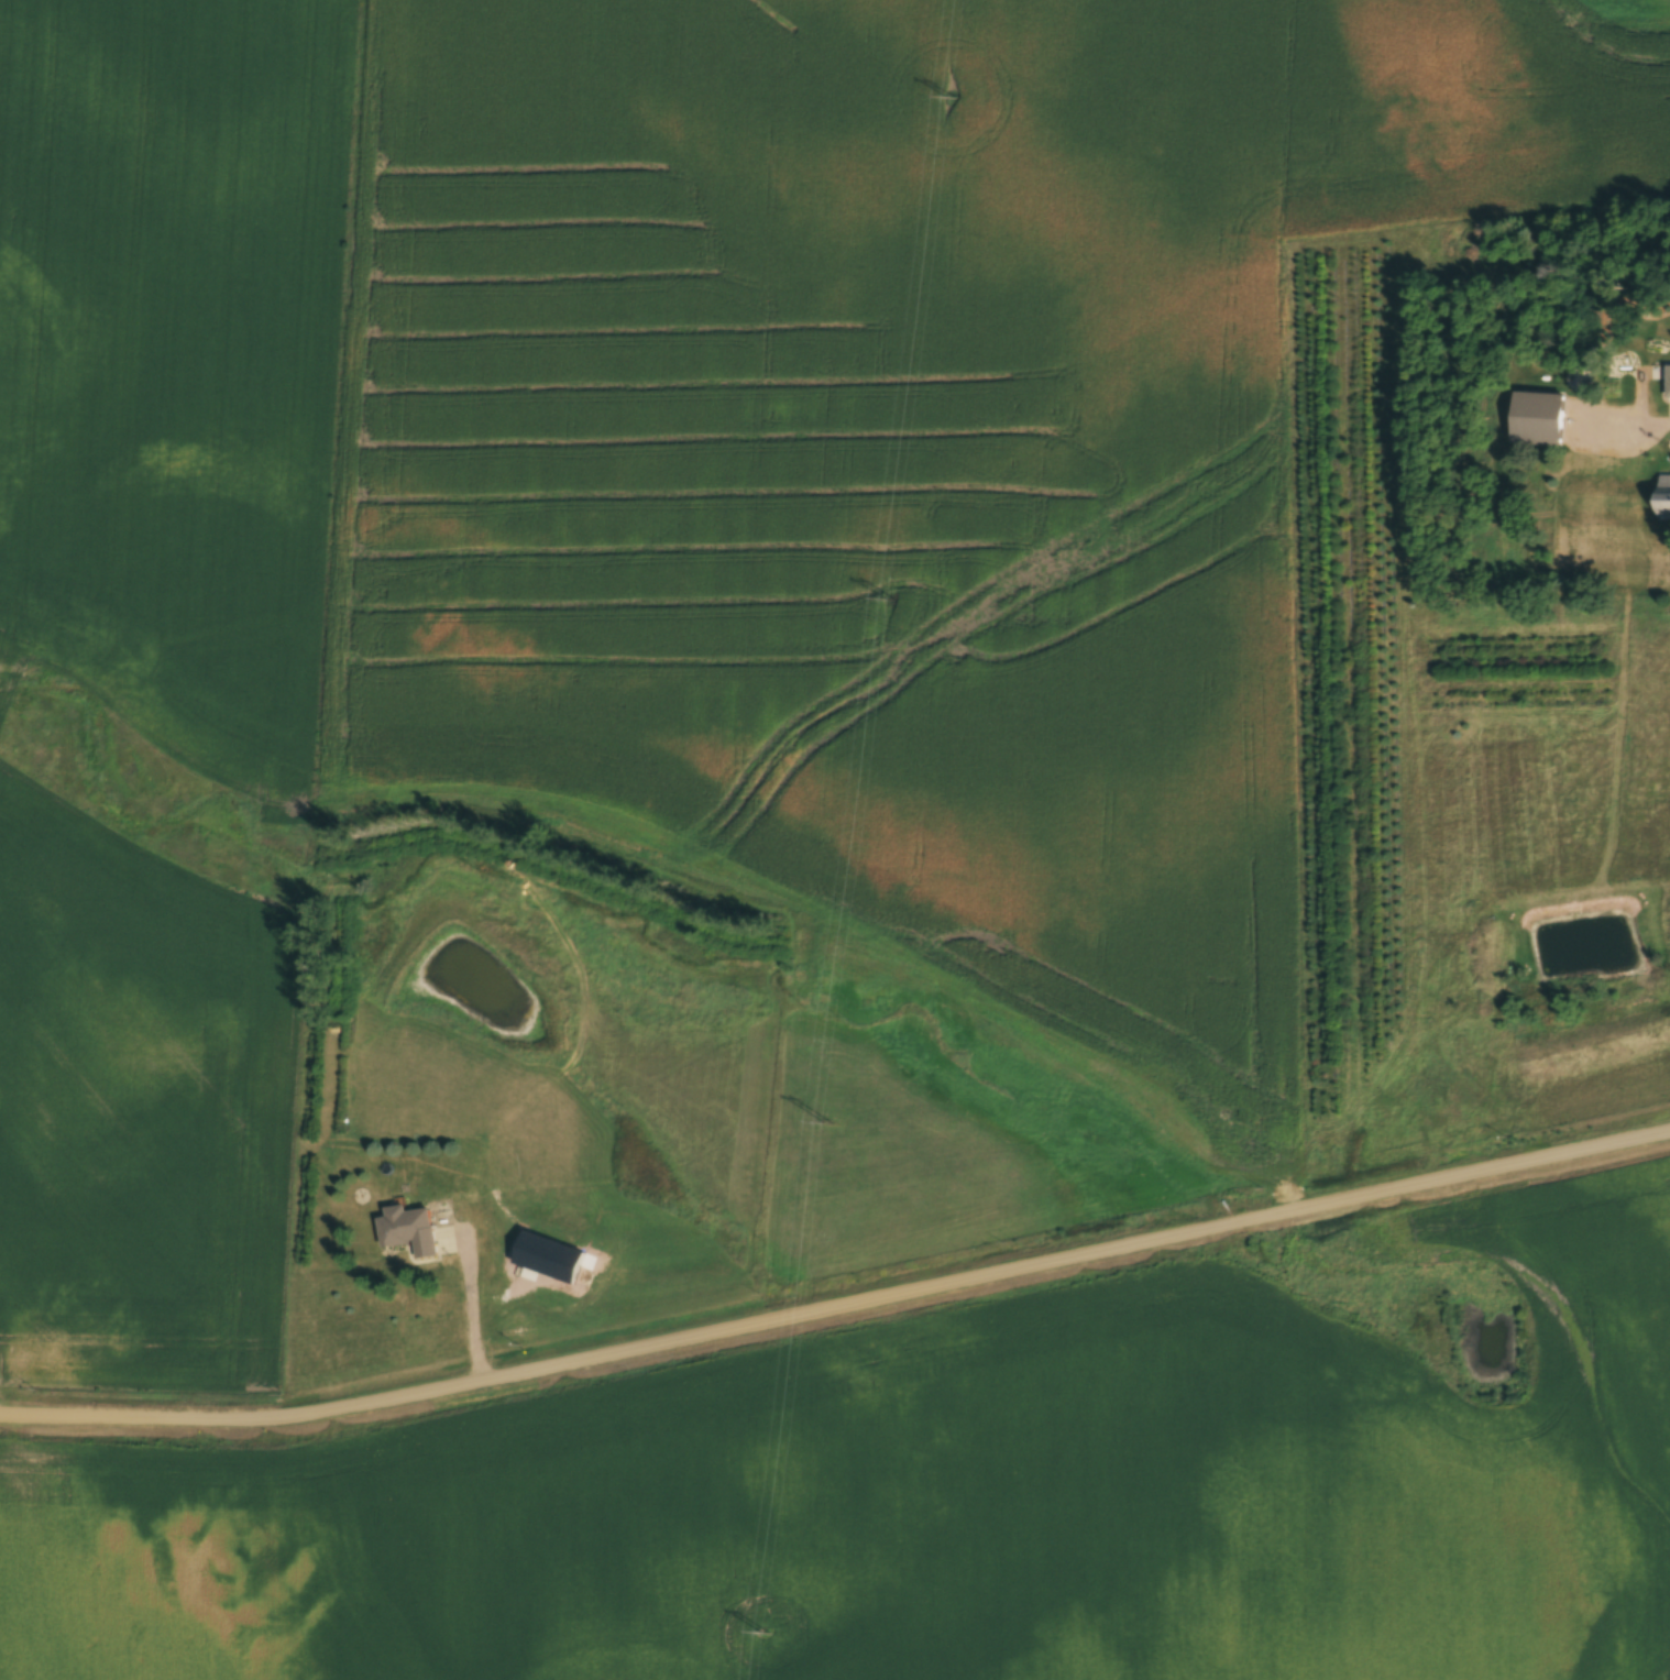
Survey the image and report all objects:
power tower: (949, 99)
crop: (171, 364)
road: (1623, 427)
building: (1666, 495)
power tower: (890, 599)
power tower: (826, 1122)
building: (409, 1231)
road: (461, 1303)
road: (838, 1309)
power tower: (763, 1634)

